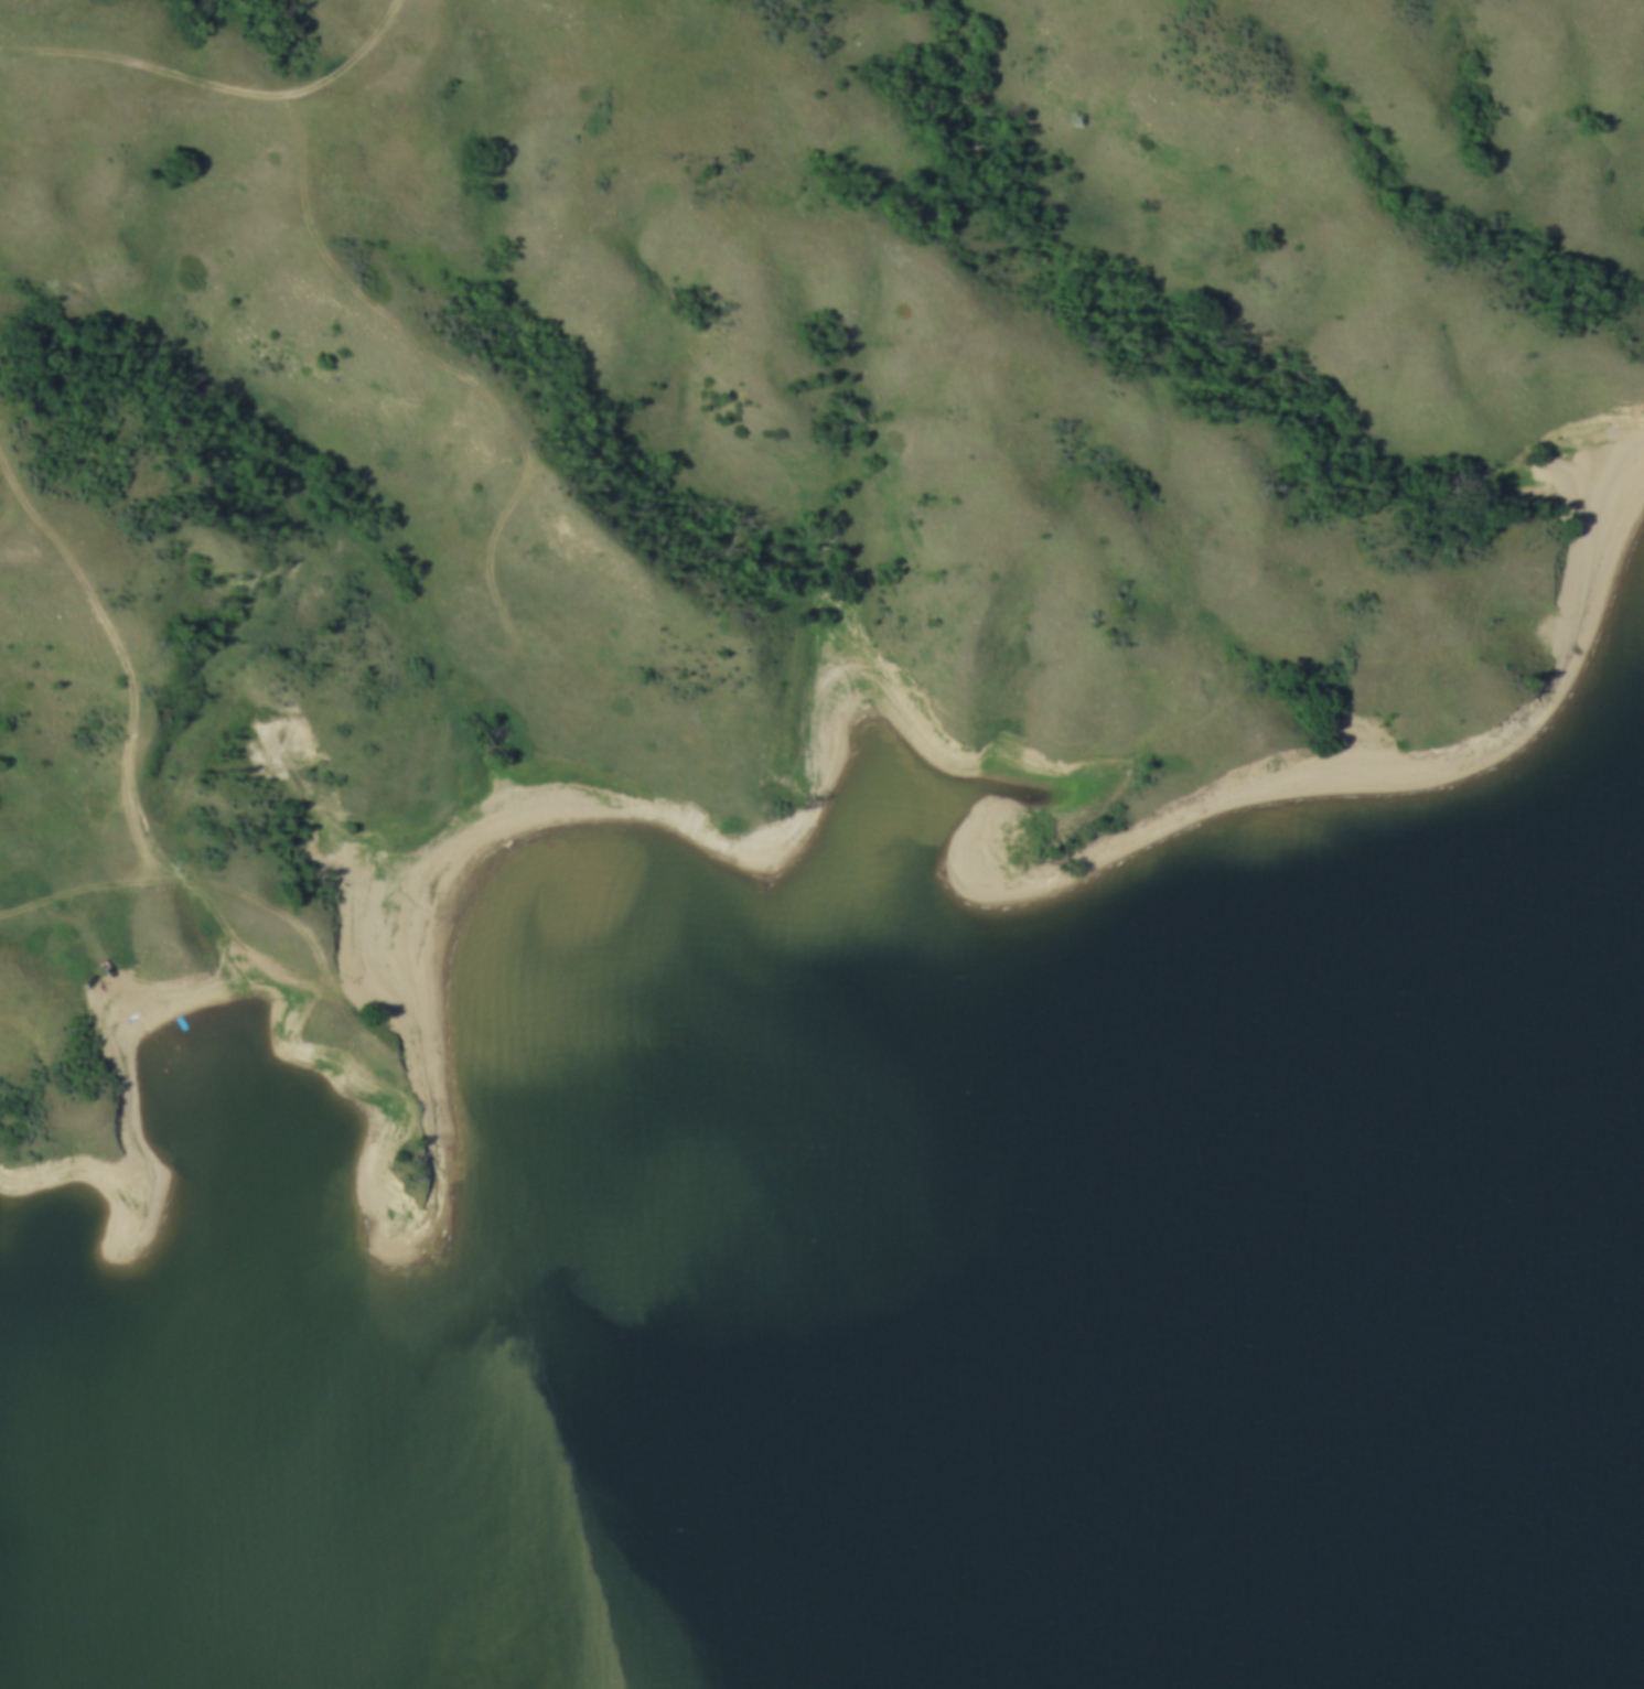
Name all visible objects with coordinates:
road: (219, 92)
road: (121, 670)
road: (281, 922)
road: (254, 962)

